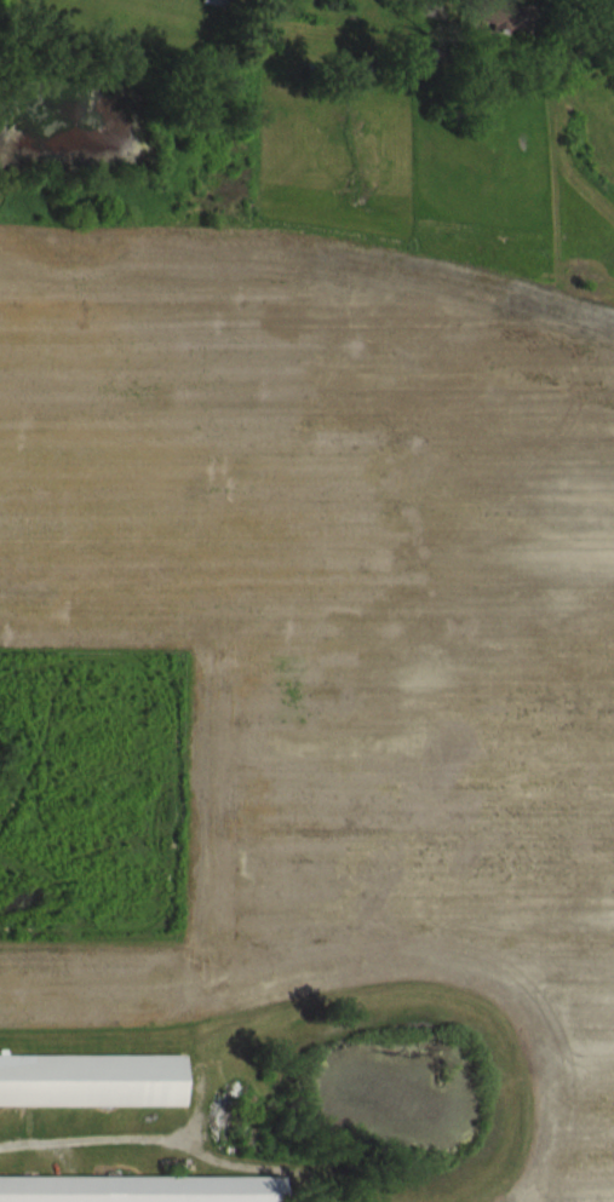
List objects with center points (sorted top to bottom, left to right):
building: (515, 30)
building: (97, 1097)
building: (143, 1197)

